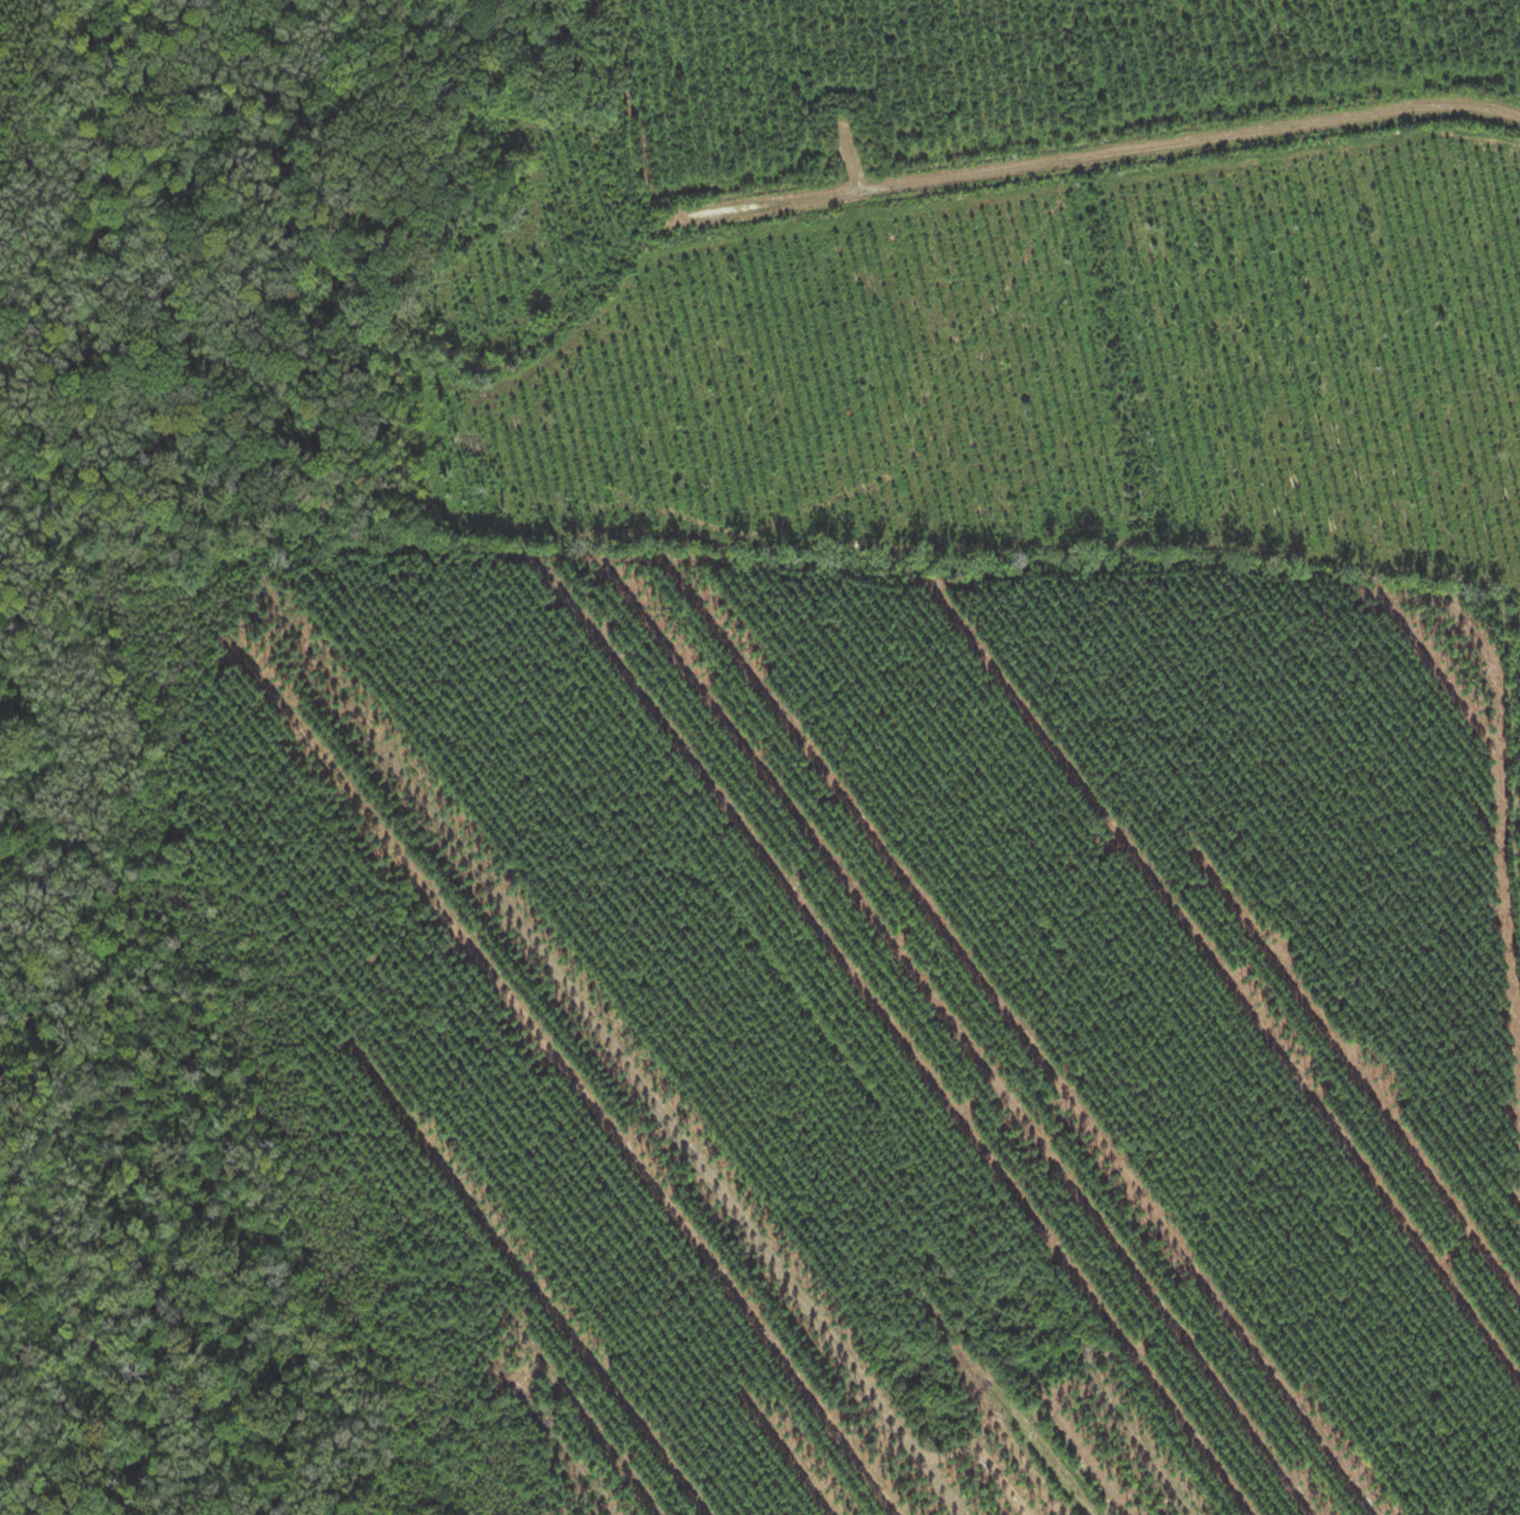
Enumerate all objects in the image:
road: (1105, 153)

